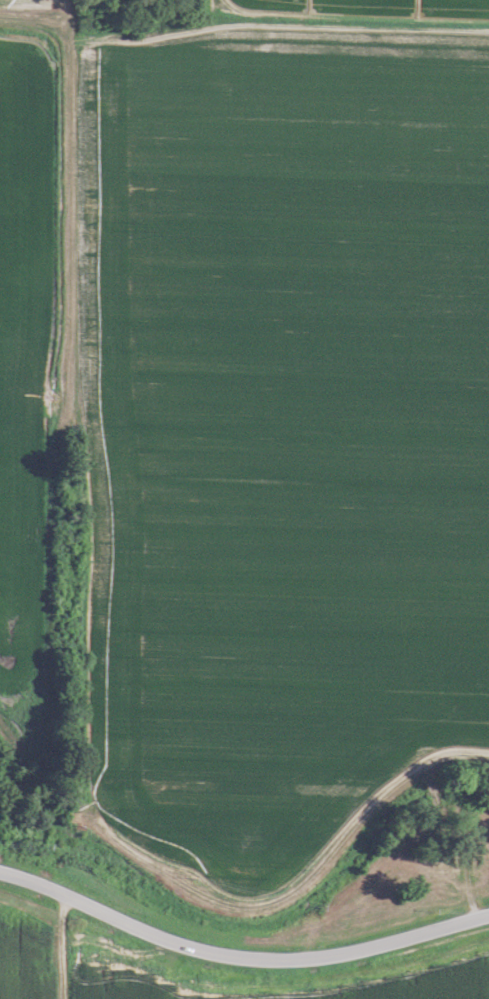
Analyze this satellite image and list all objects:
road: (60, 946)
road: (238, 959)

